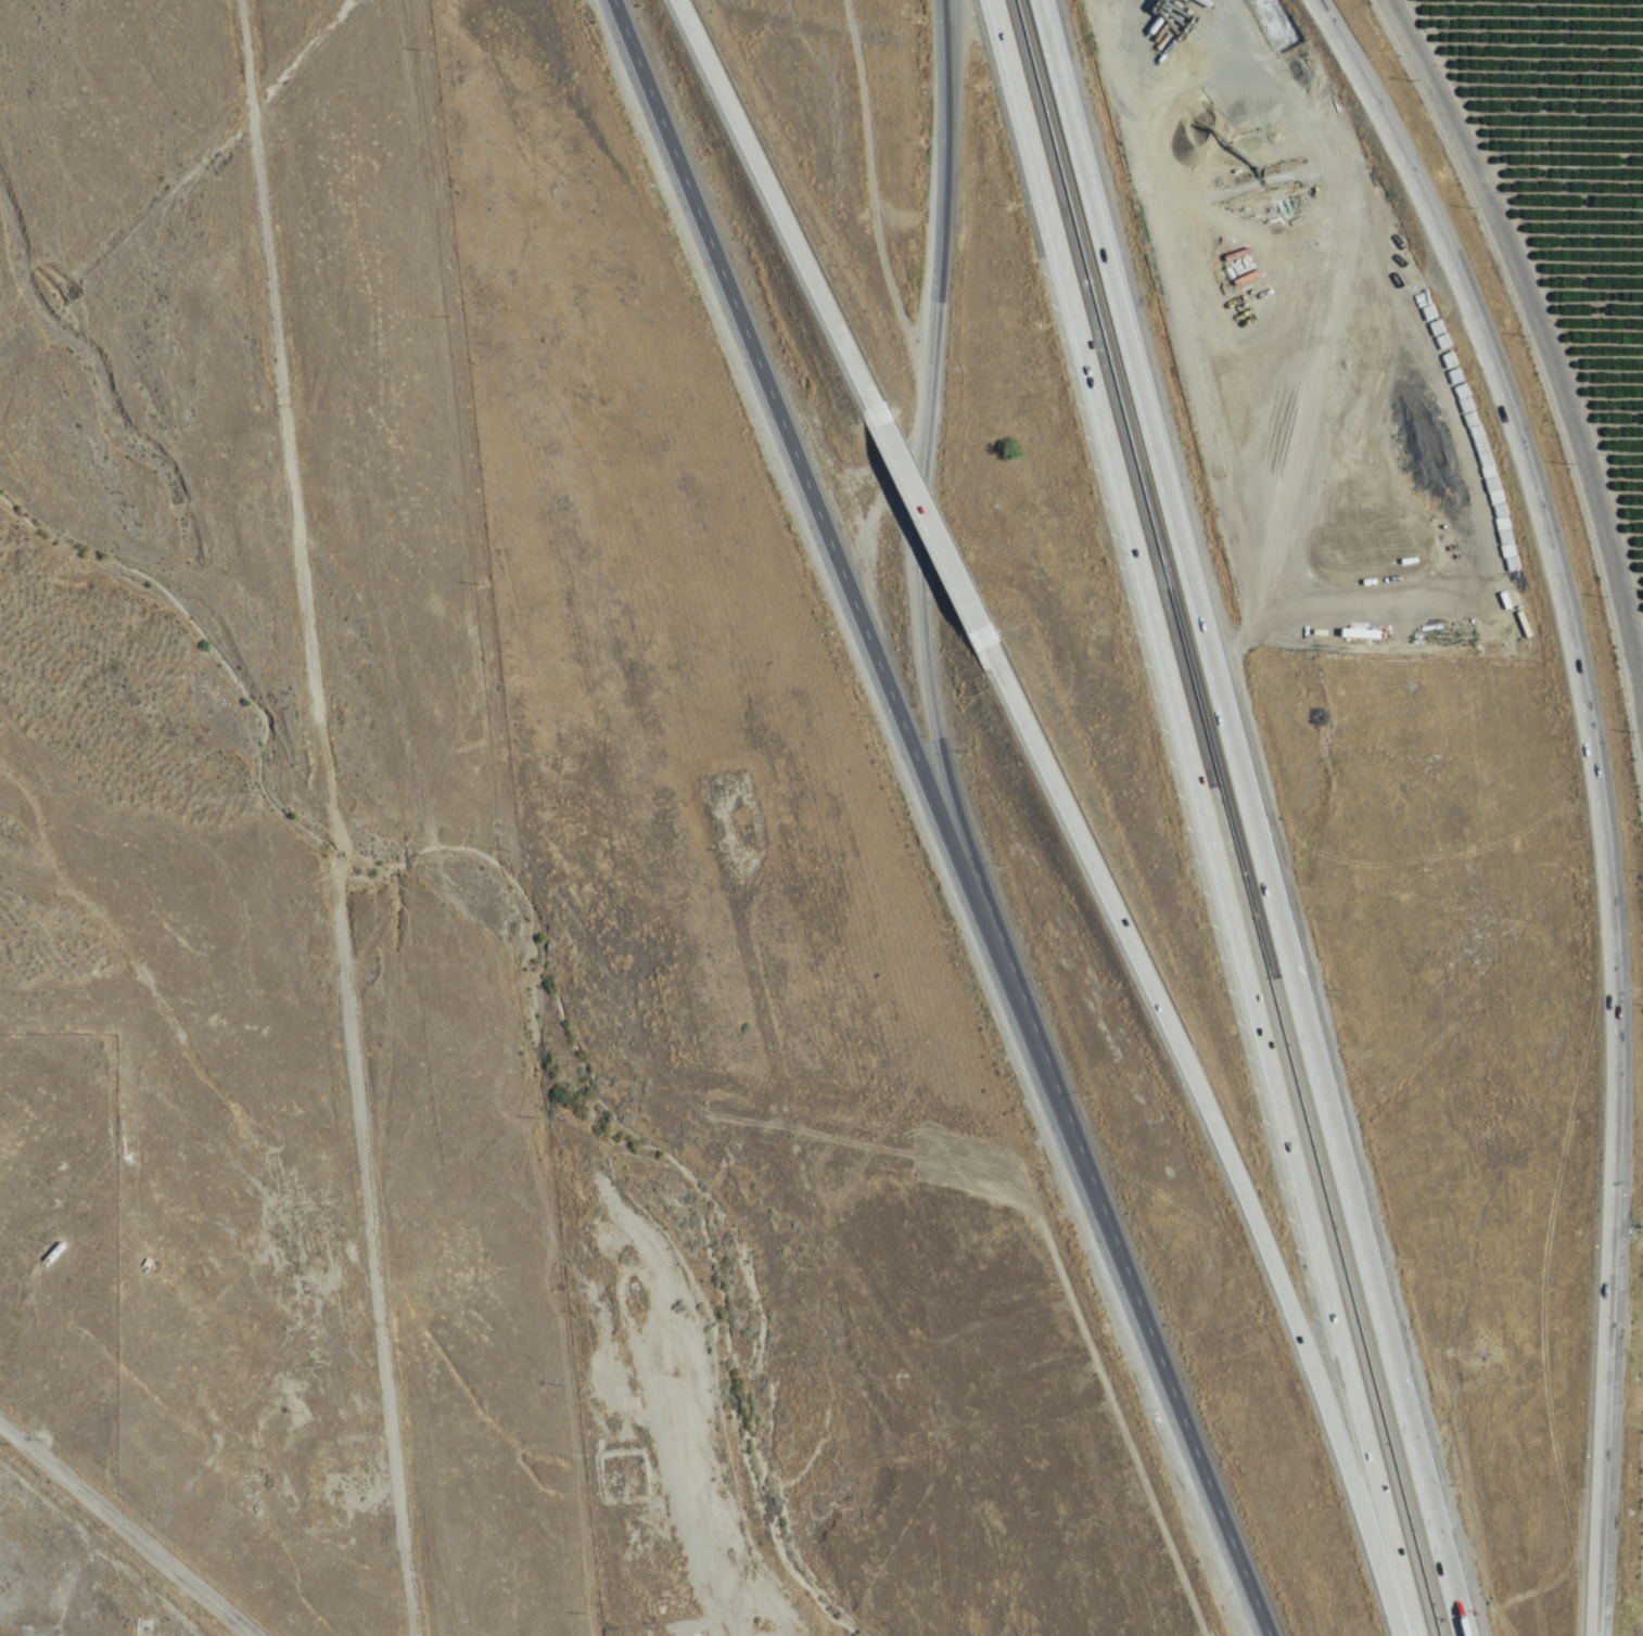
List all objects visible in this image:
road: (786, 215)
crop: (1563, 229)
road: (1550, 346)
road: (927, 466)
road: (942, 537)
road: (1593, 792)
road: (333, 817)
road: (940, 817)
road: (1203, 817)
road: (1252, 818)
road: (1218, 1132)
quarry: (250, 1170)
road: (125, 1529)
crop: (1634, 1567)

